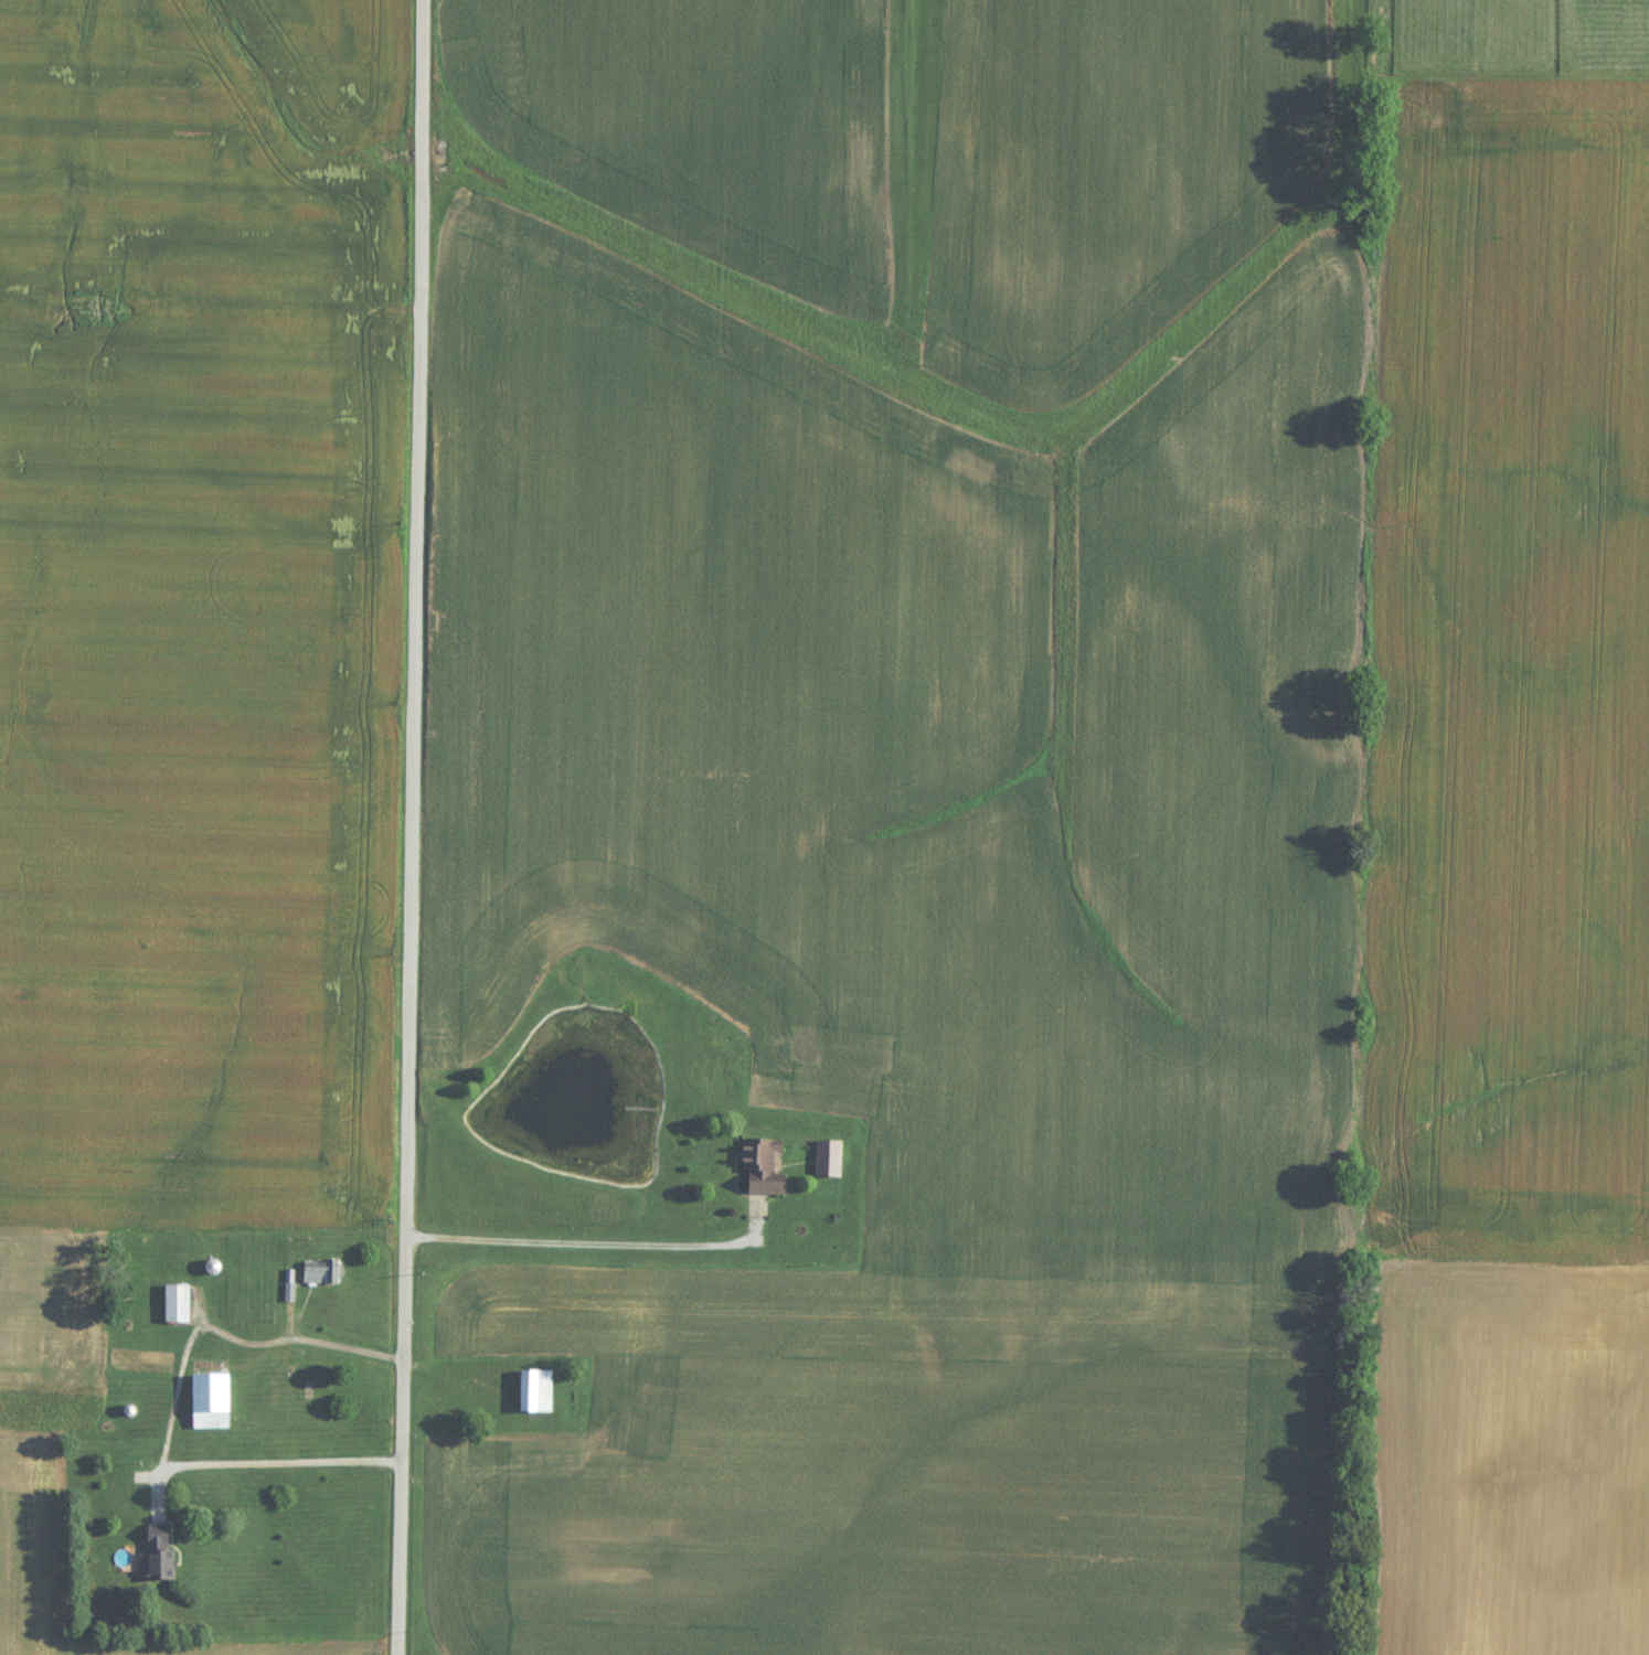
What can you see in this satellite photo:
road: (208, 310)
road: (406, 826)
building: (829, 1161)
building: (764, 1170)
road: (594, 1246)
building: (322, 1274)
building: (177, 1306)
road: (377, 1359)
building: (536, 1394)
building: (211, 1397)
road: (253, 1469)
building: (160, 1557)

